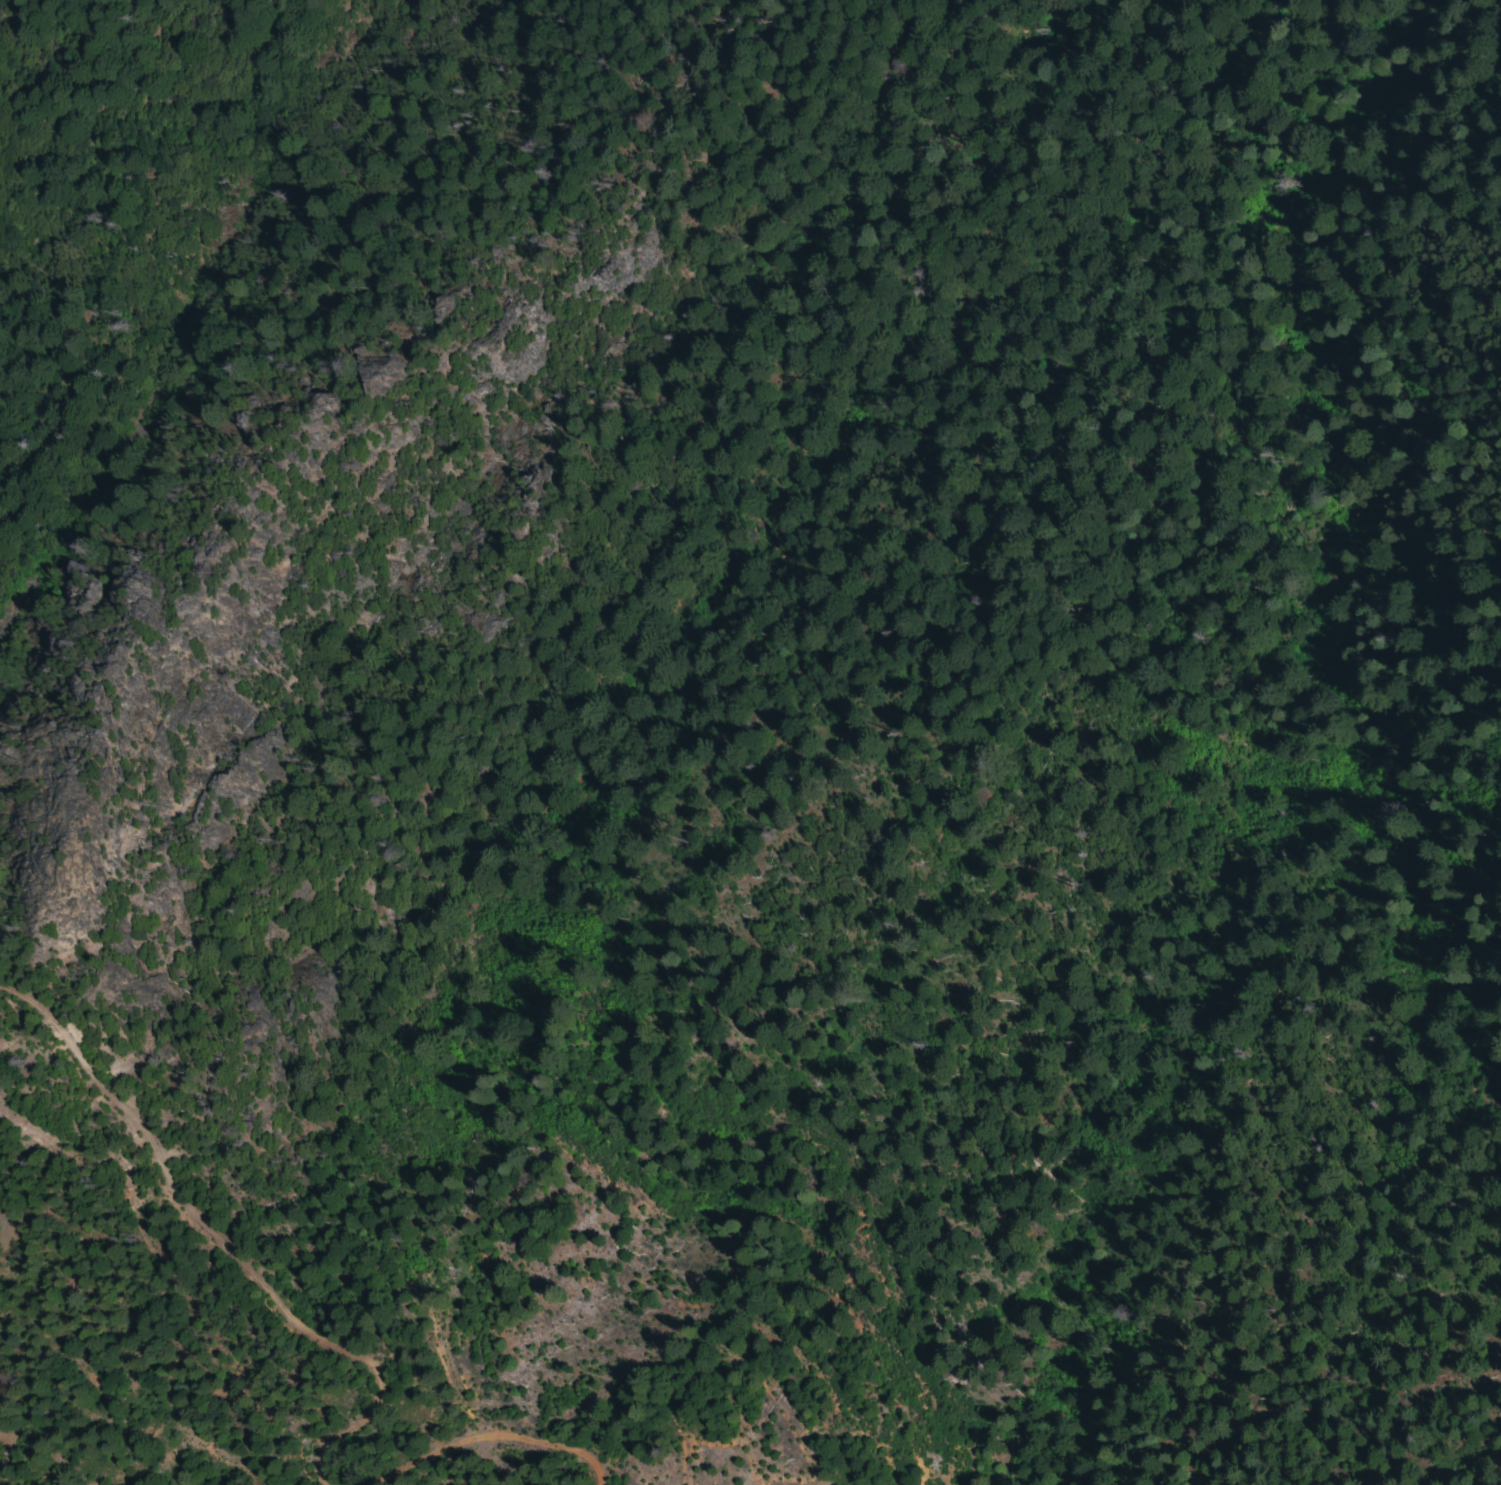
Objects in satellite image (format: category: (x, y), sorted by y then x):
road: (213, 1258)
road: (896, 1259)
road: (489, 1445)

